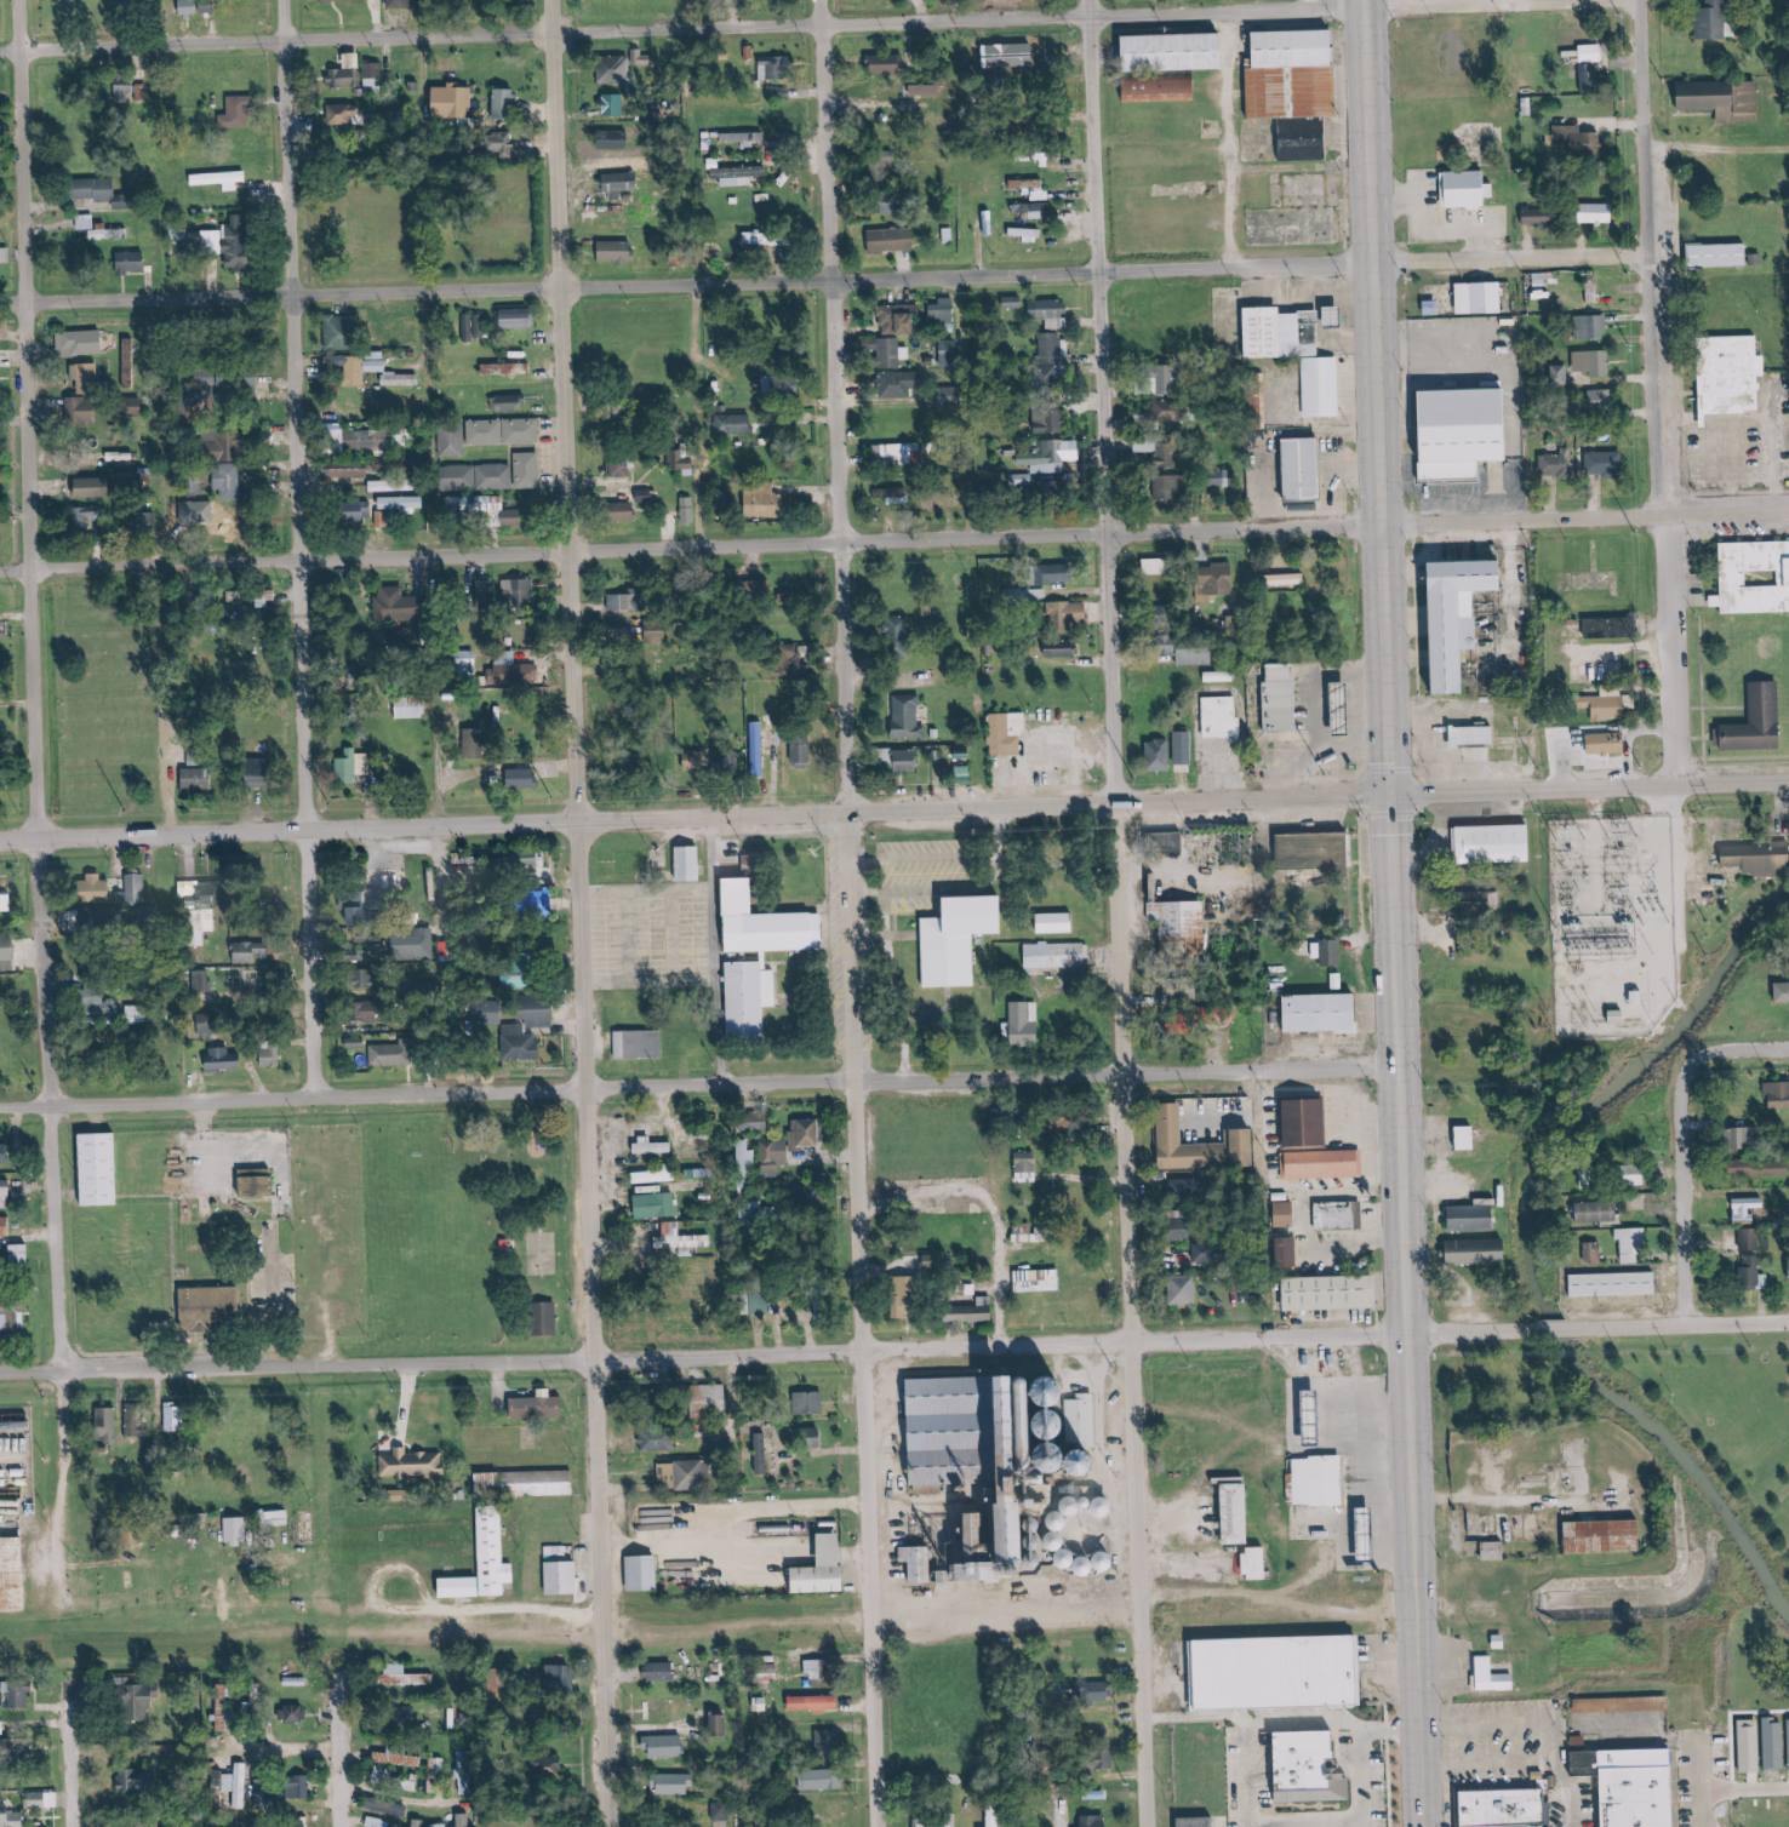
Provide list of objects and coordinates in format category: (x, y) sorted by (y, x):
building: (339, 0)
building: (400, 4)
road: (959, 10)
building: (1715, 19)
road: (777, 24)
building: (1177, 52)
building: (1593, 53)
building: (887, 64)
building: (619, 69)
building: (776, 70)
building: (373, 76)
building: (345, 78)
building: (1593, 78)
building: (1298, 88)
building: (1164, 90)
building: (125, 91)
building: (926, 91)
building: (1722, 99)
building: (453, 101)
building: (505, 105)
building: (615, 105)
building: (238, 113)
building: (345, 115)
building: (745, 138)
building: (613, 141)
building: (1577, 141)
building: (502, 148)
building: (612, 167)
building: (879, 170)
building: (738, 176)
building: (222, 179)
building: (621, 182)
building: (1028, 184)
building: (98, 189)
building: (1465, 189)
building: (1035, 210)
building: (1600, 213)
building: (1537, 216)
building: (86, 222)
building: (104, 235)
building: (1027, 235)
building: (892, 240)
building: (213, 242)
building: (240, 248)
building: (616, 252)
building: (1711, 256)
building: (132, 263)
road: (831, 280)
building: (1480, 298)
building: (1013, 303)
building: (1048, 309)
building: (942, 311)
building: (519, 319)
building: (898, 320)
building: (1052, 323)
building: (471, 327)
building: (1593, 327)
building: (343, 333)
building: (80, 343)
building: (1052, 346)
building: (948, 349)
building: (887, 351)
building: (135, 359)
building: (376, 362)
building: (1594, 363)
building: (350, 368)
building: (507, 370)
building: (1731, 377)
building: (86, 379)
building: (401, 379)
building: (1045, 379)
building: (897, 385)
building: (778, 386)
building: (1314, 386)
building: (222, 390)
road: (1668, 393)
building: (1596, 402)
building: (509, 403)
building: (135, 407)
building: (1166, 409)
building: (82, 412)
building: (1048, 423)
building: (504, 431)
building: (339, 440)
building: (370, 440)
building: (452, 441)
building: (1147, 446)
building: (230, 447)
building: (897, 453)
building: (1051, 457)
building: (687, 460)
building: (1605, 463)
building: (1560, 464)
building: (622, 468)
building: (1297, 469)
building: (349, 470)
building: (497, 475)
building: (1170, 476)
building: (232, 482)
building: (390, 487)
building: (1046, 487)
building: (91, 488)
building: (891, 494)
building: (644, 496)
building: (936, 504)
building: (478, 506)
building: (358, 510)
building: (690, 510)
building: (629, 512)
building: (216, 515)
building: (86, 517)
road: (893, 540)
road: (291, 548)
building: (1156, 567)
building: (1059, 573)
building: (1754, 575)
building: (1222, 579)
building: (1286, 580)
building: (485, 589)
building: (756, 590)
building: (518, 592)
building: (1025, 596)
building: (622, 603)
building: (399, 605)
building: (1069, 614)
building: (1467, 614)
building: (897, 626)
building: (1612, 628)
building: (656, 634)
building: (0, 637)
building: (1063, 651)
building: (1195, 655)
building: (467, 660)
building: (798, 671)
building: (514, 672)
road: (24, 686)
building: (1271, 699)
building: (1344, 704)
building: (412, 706)
building: (801, 706)
building: (1608, 708)
building: (1331, 710)
building: (908, 716)
building: (1214, 717)
building: (1765, 722)
building: (1008, 733)
building: (1484, 734)
building: (1607, 741)
building: (1184, 746)
building: (802, 748)
building: (760, 749)
building: (1565, 751)
building: (1160, 754)
building: (699, 760)
building: (732, 760)
building: (909, 760)
building: (349, 766)
building: (261, 769)
building: (198, 778)
building: (524, 778)
traffic signals: (1389, 796)
road: (894, 813)
building: (1486, 844)
building: (1318, 850)
road: (984, 855)
road: (911, 858)
building: (1759, 858)
building: (690, 863)
road: (1708, 863)
building: (526, 864)
building: (189, 887)
building: (97, 888)
road: (901, 889)
building: (5, 893)
building: (1482, 901)
building: (366, 904)
road: (1691, 910)
road: (572, 912)
road: (1118, 912)
road: (1391, 912)
road: (839, 913)
road: (884, 913)
building: (95, 916)
building: (200, 921)
building: (1058, 922)
building: (1183, 926)
power substation: (1597, 928)
road: (878, 937)
building: (950, 938)
building: (415, 943)
building: (1474, 946)
building: (252, 951)
building: (7, 952)
building: (1332, 952)
building: (760, 953)
building: (1047, 956)
building: (201, 981)
building: (1174, 992)
building: (1782, 992)
building: (102, 1002)
road: (891, 1009)
road: (922, 1010)
building: (538, 1012)
building: (148, 1013)
building: (490, 1013)
building: (1314, 1014)
building: (210, 1025)
building: (1014, 1029)
building: (356, 1042)
building: (522, 1042)
building: (639, 1044)
building: (273, 1054)
building: (393, 1054)
road: (1742, 1054)
building: (224, 1058)
road: (697, 1087)
building: (1777, 1093)
building: (754, 1122)
building: (1297, 1123)
building: (1070, 1124)
building: (807, 1133)
building: (1743, 1136)
building: (1461, 1138)
building: (656, 1146)
building: (703, 1146)
building: (1204, 1146)
building: (5, 1153)
building: (747, 1153)
building: (776, 1156)
building: (1316, 1164)
building: (1028, 1167)
building: (90, 1169)
building: (652, 1176)
building: (1588, 1176)
building: (247, 1182)
building: (5, 1193)
road: (1694, 1196)
building: (658, 1204)
building: (1597, 1210)
road: (1022, 1212)
building: (1286, 1213)
building: (1337, 1215)
building: (1474, 1218)
building: (5, 1226)
park: (468, 1227)
building: (1183, 1230)
building: (682, 1239)
building: (1631, 1244)
building: (497, 1245)
building: (1291, 1250)
building: (1478, 1252)
building: (1593, 1252)
building: (1207, 1253)
building: (21, 1254)
park: (530, 1255)
building: (932, 1261)
building: (1788, 1268)
building: (1750, 1271)
building: (1039, 1281)
building: (1614, 1283)
building: (1187, 1289)
building: (1321, 1293)
road: (263, 1296)
building: (907, 1296)
building: (761, 1304)
building: (822, 1306)
building: (200, 1310)
building: (548, 1318)
road: (1680, 1324)
road: (1554, 1328)
road: (767, 1354)
building: (714, 1393)
building: (812, 1402)
building: (538, 1407)
building: (175, 1416)
building: (1301, 1419)
building: (1314, 1420)
building: (138, 1421)
building: (108, 1424)
building: (813, 1437)
building: (657, 1438)
building: (1002, 1450)
building: (761, 1453)
building: (412, 1464)
building: (680, 1474)
building: (1320, 1480)
building: (528, 1483)
road: (50, 1489)
building: (1239, 1513)
building: (1068, 1524)
building: (238, 1529)
building: (1607, 1535)
building: (1355, 1536)
building: (1497, 1551)
building: (487, 1560)
building: (916, 1562)
building: (1080, 1562)
building: (1259, 1563)
building: (827, 1568)
building: (645, 1573)
building: (13, 1574)
building: (564, 1576)
road: (365, 1577)
road: (507, 1610)
railway: (918, 1623)
building: (661, 1672)
building: (1264, 1673)
building: (406, 1676)
building: (1494, 1676)
building: (562, 1677)
building: (1094, 1693)
building: (18, 1694)
building: (815, 1702)
building: (1622, 1705)
building: (663, 1708)
building: (296, 1713)
building: (722, 1725)
road: (1275, 1725)
building: (2, 1726)
building: (828, 1742)
road: (1550, 1743)
building: (667, 1746)
building: (1750, 1746)
building: (16, 1748)
road: (270, 1751)
road: (330, 1753)
road: (61, 1759)
building: (400, 1759)
building: (1107, 1759)
building: (548, 1765)
building: (438, 1769)
building: (465, 1771)
building: (1294, 1771)
building: (824, 1779)
road: (1696, 1779)
building: (139, 1782)
building: (229, 1783)
building: (678, 1783)
building: (1619, 1783)
building: (241, 1785)
building: (298, 1787)
road: (1564, 1793)
building: (36, 1799)
building: (267, 1803)
building: (1494, 1806)
building: (721, 1810)
building: (11, 1817)
building: (995, 1817)
building: (464, 1820)
building: (1094, 1821)
road: (1350, 1821)
building: (378, 1822)
building: (421, 1822)
building: (922, 1822)
building: (1200, 1822)
building: (954, 1823)
building: (441, 1825)
building: (770, 1826)

